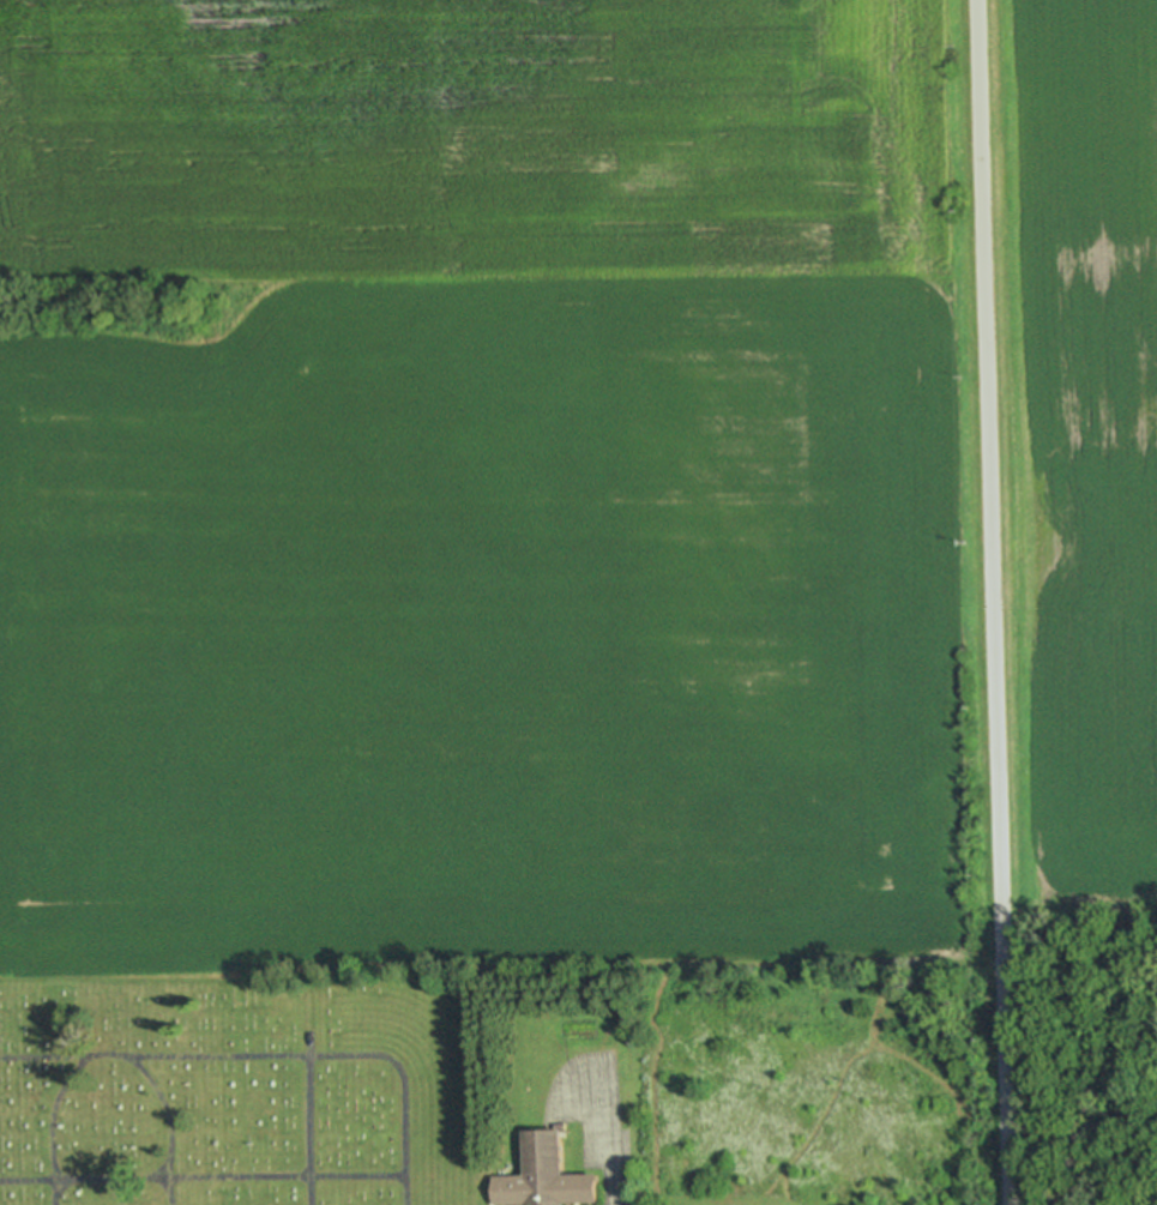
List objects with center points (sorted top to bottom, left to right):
road: (992, 602)
road: (267, 1056)
park: (234, 1091)
road: (306, 1119)
road: (47, 1123)
road: (165, 1123)
building: (542, 1175)
road: (201, 1179)

